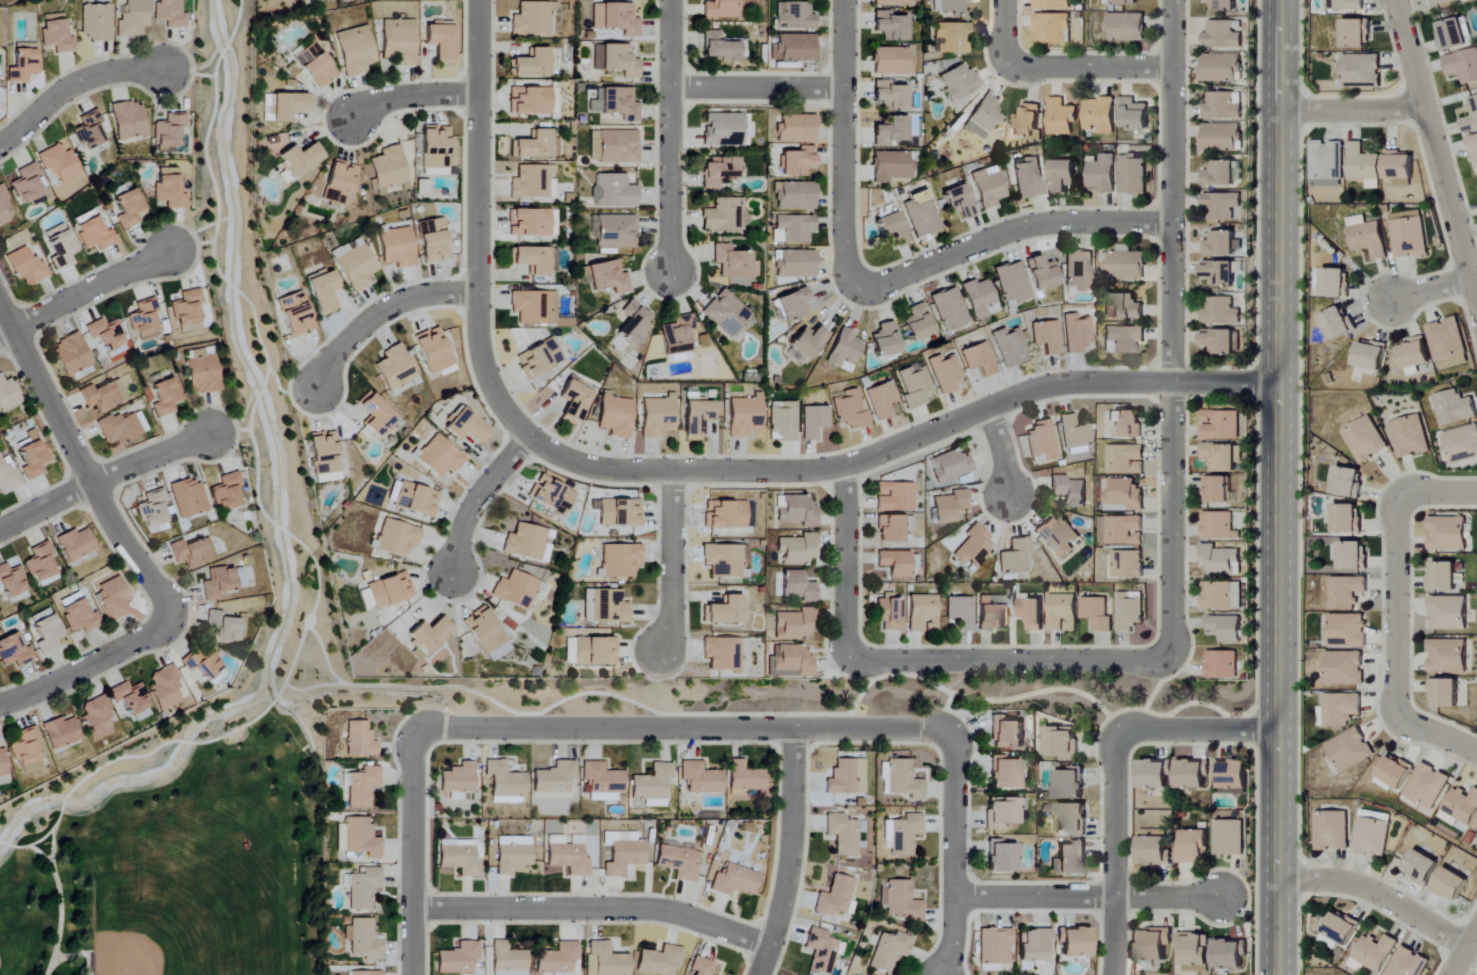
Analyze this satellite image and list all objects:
building: (893, 2)
building: (1124, 2)
building: (1439, 2)
building: (1054, 4)
building: (1224, 4)
building: (1345, 5)
building: (949, 6)
building: (721, 9)
building: (169, 13)
building: (794, 16)
building: (132, 19)
building: (532, 19)
building: (615, 19)
building: (96, 22)
road: (236, 23)
building: (892, 26)
building: (1125, 27)
building: (1053, 28)
road: (1003, 32)
building: (56, 34)
building: (1357, 34)
building: (1222, 35)
building: (1453, 35)
building: (951, 38)
building: (398, 41)
building: (440, 42)
building: (720, 48)
building: (794, 48)
road: (224, 49)
building: (355, 50)
building: (616, 60)
building: (892, 61)
building: (23, 63)
building: (533, 63)
building: (315, 66)
road: (1091, 66)
building: (1463, 66)
building: (1221, 67)
building: (1359, 71)
road: (187, 74)
building: (958, 82)
road: (73, 88)
road: (757, 88)
building: (891, 95)
road: (410, 97)
building: (530, 101)
building: (616, 103)
building: (288, 106)
building: (1221, 107)
road: (1352, 108)
building: (1134, 114)
building: (1100, 115)
building: (1471, 116)
building: (983, 117)
building: (1061, 117)
building: (129, 120)
building: (1028, 121)
building: (797, 129)
building: (724, 130)
building: (891, 130)
building: (89, 131)
building: (169, 133)
building: (1221, 137)
road: (669, 138)
building: (532, 146)
building: (614, 147)
building: (436, 148)
building: (1473, 148)
road: (1434, 152)
road: (844, 156)
building: (300, 159)
building: (798, 161)
building: (1327, 163)
building: (60, 164)
building: (891, 166)
building: (1365, 166)
building: (389, 169)
building: (1400, 169)
building: (720, 171)
building: (1103, 174)
building: (1133, 174)
building: (1222, 174)
building: (1064, 176)
building: (1028, 177)
building: (531, 182)
building: (340, 183)
building: (27, 184)
building: (988, 187)
building: (168, 188)
building: (614, 191)
building: (795, 196)
building: (959, 202)
building: (1221, 206)
building: (129, 208)
building: (5, 210)
building: (725, 215)
building: (921, 215)
building: (532, 223)
road: (477, 225)
road: (217, 227)
building: (792, 229)
building: (893, 229)
road: (1021, 230)
building: (616, 232)
building: (94, 234)
building: (1409, 234)
building: (1368, 237)
building: (433, 240)
building: (1221, 244)
building: (59, 245)
road: (190, 246)
building: (397, 248)
building: (533, 259)
building: (734, 262)
building: (354, 264)
building: (796, 264)
building: (1124, 264)
building: (25, 267)
building: (1079, 271)
building: (1042, 273)
building: (1221, 273)
building: (605, 277)
building: (1012, 283)
building: (1336, 283)
road: (1430, 288)
building: (322, 290)
road: (81, 291)
building: (980, 298)
building: (794, 304)
building: (534, 307)
building: (1124, 308)
building: (949, 309)
building: (187, 311)
road: (381, 312)
building: (1221, 312)
building: (726, 313)
building: (296, 315)
park: (244, 318)
building: (144, 320)
building: (634, 322)
building: (918, 323)
building: (1339, 324)
road: (1171, 331)
building: (1076, 333)
building: (677, 335)
building: (1047, 336)
building: (107, 337)
building: (1124, 339)
building: (886, 341)
building: (809, 342)
building: (1221, 342)
building: (1448, 344)
building: (1009, 346)
building: (434, 350)
building: (845, 350)
building: (72, 355)
building: (1416, 355)
building: (1372, 356)
building: (539, 359)
building: (978, 359)
building: (395, 368)
building: (201, 370)
building: (944, 373)
building: (915, 386)
road: (285, 393)
road: (260, 395)
building: (7, 396)
building: (165, 397)
building: (99, 398)
building: (881, 400)
building: (575, 402)
building: (1454, 408)
building: (850, 409)
building: (376, 414)
building: (616, 416)
building: (658, 417)
building: (743, 417)
building: (699, 418)
building: (782, 421)
building: (814, 422)
building: (1128, 424)
building: (1220, 426)
building: (467, 427)
building: (119, 428)
road: (230, 431)
building: (1074, 436)
building: (1410, 437)
building: (1366, 441)
building: (1042, 442)
road: (903, 443)
building: (1461, 444)
road: (1000, 451)
building: (325, 457)
building: (440, 457)
building: (1223, 457)
building: (33, 460)
building: (1124, 460)
building: (951, 466)
road: (84, 469)
road: (102, 476)
building: (7, 478)
building: (1349, 482)
road: (1282, 487)
building: (1219, 490)
building: (228, 492)
building: (1069, 492)
building: (551, 495)
building: (1123, 496)
building: (188, 498)
building: (894, 498)
road: (475, 499)
building: (417, 500)
building: (950, 506)
building: (797, 511)
building: (152, 512)
building: (620, 513)
building: (726, 515)
building: (1345, 518)
building: (1218, 526)
building: (893, 528)
building: (1120, 531)
building: (1448, 534)
building: (1059, 536)
building: (396, 538)
building: (528, 543)
building: (76, 545)
road: (302, 545)
building: (974, 547)
building: (798, 550)
building: (192, 553)
building: (1351, 556)
building: (1015, 557)
building: (621, 560)
building: (1220, 560)
building: (724, 561)
road: (844, 561)
building: (896, 563)
building: (1127, 564)
building: (41, 565)
road: (669, 566)
building: (1444, 578)
building: (12, 581)
building: (218, 583)
building: (799, 587)
building: (390, 591)
building: (516, 592)
building: (1346, 593)
building: (1222, 596)
building: (112, 598)
building: (366, 600)
building: (605, 607)
road: (1394, 610)
building: (725, 612)
building: (960, 612)
building: (1129, 612)
building: (889, 613)
building: (923, 613)
building: (992, 613)
building: (1063, 613)
building: (1032, 614)
building: (1097, 614)
building: (1449, 614)
building: (79, 617)
building: (796, 625)
building: (241, 626)
building: (1226, 628)
building: (222, 629)
building: (45, 631)
building: (1348, 631)
building: (487, 634)
building: (430, 635)
building: (14, 651)
building: (591, 651)
building: (726, 654)
building: (1448, 657)
road: (1009, 659)
building: (790, 662)
building: (1222, 665)
road: (83, 667)
road: (907, 667)
building: (1345, 668)
road: (312, 688)
building: (165, 689)
building: (1445, 694)
building: (132, 700)
road: (274, 702)
road: (1150, 703)
road: (1205, 704)
building: (1341, 709)
road: (710, 715)
building: (97, 718)
road: (529, 721)
road: (685, 728)
building: (61, 733)
building: (1007, 733)
road: (1199, 733)
building: (360, 740)
building: (1062, 743)
building: (1350, 750)
building: (27, 751)
road: (123, 758)
building: (2, 764)
building: (1005, 774)
building: (1156, 775)
building: (1193, 775)
building: (1232, 775)
building: (745, 777)
building: (555, 778)
building: (847, 778)
building: (701, 779)
building: (459, 780)
building: (901, 780)
building: (603, 782)
building: (506, 783)
building: (1070, 784)
building: (653, 786)
building: (1427, 786)
building: (363, 787)
building: (1460, 808)
building: (1003, 812)
building: (1072, 820)
building: (1475, 828)
building: (1332, 831)
building: (843, 835)
building: (902, 835)
building: (1372, 835)
building: (358, 838)
building: (1228, 838)
road: (52, 847)
building: (1195, 848)
park: (173, 851)
building: (1156, 851)
road: (412, 853)
building: (623, 853)
road: (789, 853)
road: (954, 854)
building: (513, 855)
road: (1115, 855)
building: (567, 857)
building: (1002, 858)
building: (1071, 860)
building: (460, 861)
building: (679, 863)
building: (1425, 869)
building: (735, 881)
park: (199, 884)
building: (1453, 885)
building: (364, 888)
road: (1378, 895)
road: (1084, 896)
building: (834, 897)
building: (899, 900)
road: (61, 905)
road: (594, 911)
building: (1343, 927)
building: (363, 939)
building: (1075, 940)
building: (1035, 944)
building: (1155, 944)
building: (995, 945)
building: (821, 950)
building: (889, 950)
building: (1194, 951)
road: (1463, 952)
building: (1375, 953)
building: (1231, 954)
road: (81, 955)
park: (127, 955)
building: (458, 958)
building: (558, 958)
building: (509, 960)
building: (605, 960)
building: (659, 961)
building: (1407, 962)
building: (704, 967)
building: (366, 973)

